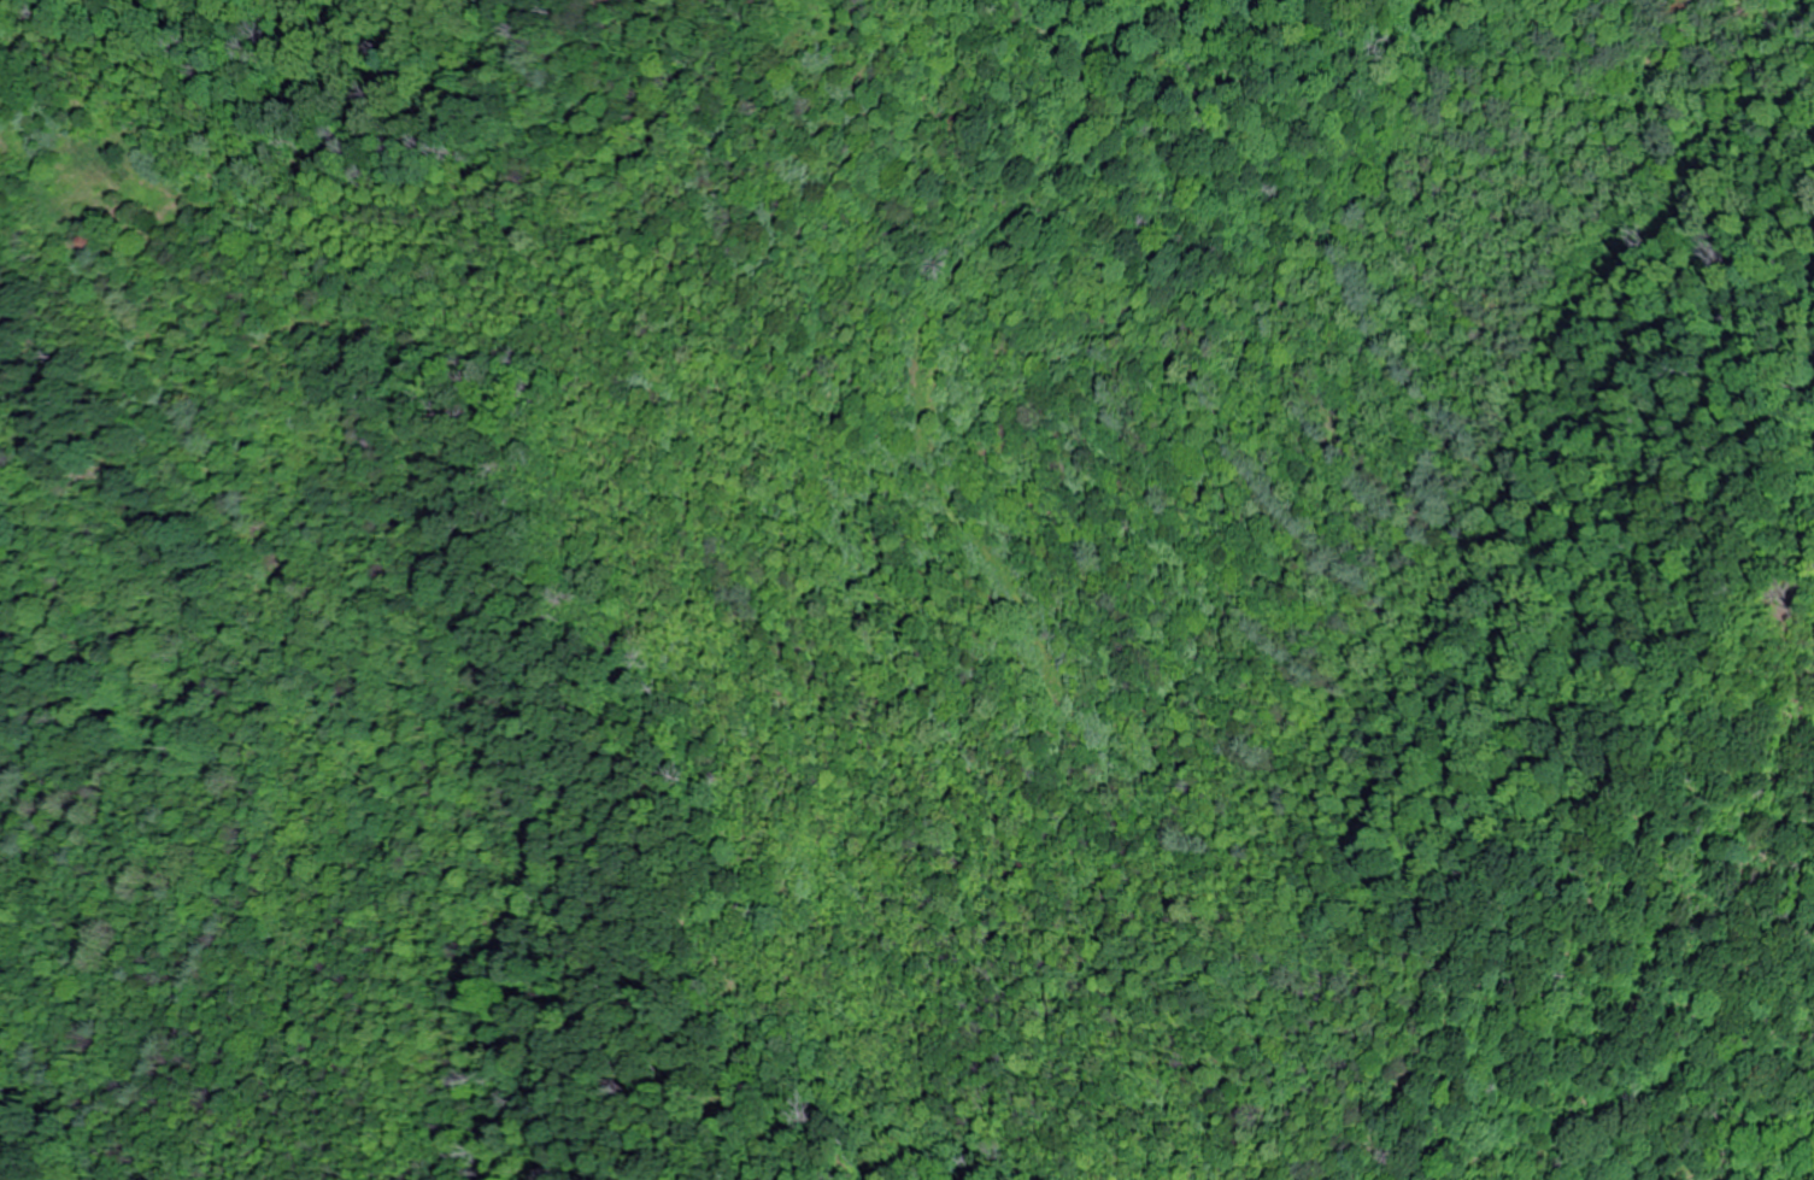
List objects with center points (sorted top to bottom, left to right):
road: (573, 558)

